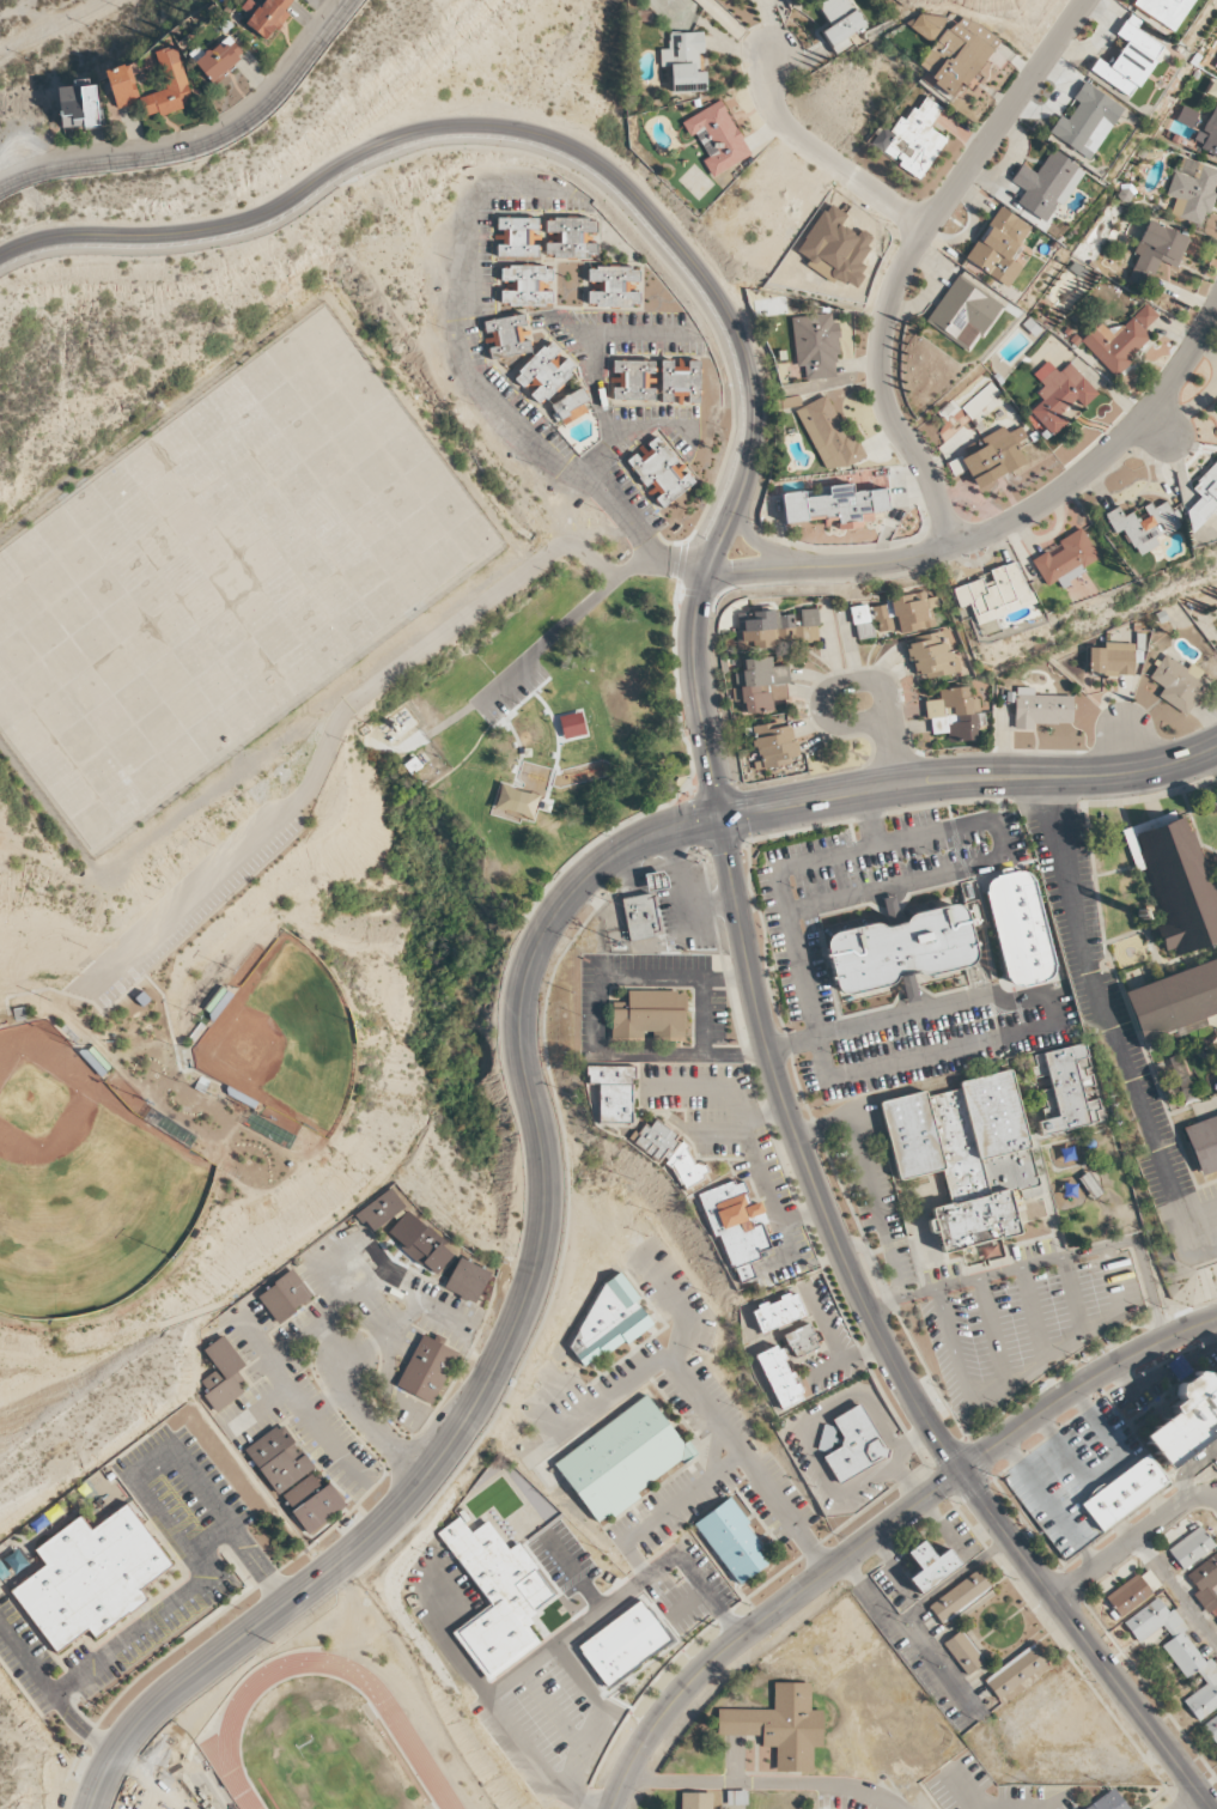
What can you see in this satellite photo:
road: (25, 5)
building: (250, 6)
road: (10, 11)
building: (1163, 11)
road: (59, 12)
building: (268, 17)
building: (839, 23)
building: (926, 25)
park: (73, 42)
building: (959, 54)
building: (219, 59)
building: (1128, 60)
building: (683, 61)
building: (1216, 67)
building: (122, 85)
building: (169, 85)
building: (1212, 90)
building: (78, 105)
building: (1087, 121)
building: (1209, 132)
building: (717, 138)
building: (911, 139)
road: (203, 144)
road: (826, 158)
building: (1046, 184)
building: (1192, 190)
road: (627, 194)
road: (645, 232)
building: (517, 237)
building: (572, 237)
building: (998, 245)
road: (651, 248)
road: (172, 250)
building: (1156, 251)
road: (909, 256)
building: (525, 285)
building: (613, 286)
building: (963, 312)
road: (644, 335)
building: (506, 336)
building: (1120, 339)
building: (815, 345)
road: (596, 366)
road: (469, 372)
building: (543, 374)
building: (680, 381)
building: (1060, 395)
building: (570, 406)
building: (827, 433)
building: (994, 455)
building: (659, 473)
building: (1204, 498)
building: (834, 504)
road: (1017, 520)
building: (1144, 526)
road: (639, 534)
road: (763, 545)
road: (680, 559)
building: (1066, 559)
building: (994, 593)
building: (895, 614)
building: (777, 627)
road: (540, 645)
building: (931, 655)
building: (1112, 658)
road: (871, 681)
parking lot: (512, 682)
building: (1178, 682)
building: (760, 684)
building: (1040, 709)
building: (954, 715)
building: (572, 724)
road: (335, 733)
building: (773, 742)
park: (571, 745)
road: (521, 748)
road: (895, 753)
road: (1213, 754)
road: (969, 778)
building: (516, 802)
traffic signals: (722, 819)
road: (875, 839)
road: (860, 849)
building: (1176, 879)
building: (656, 880)
road: (869, 891)
parking lot: (185, 905)
building: (643, 917)
building: (1021, 928)
building: (901, 949)
road: (154, 964)
road: (802, 975)
building: (1175, 1000)
building: (650, 1016)
road: (876, 1022)
road: (1106, 1024)
park: (285, 1039)
road: (174, 1042)
road: (932, 1055)
building: (1070, 1089)
building: (614, 1092)
building: (1203, 1143)
building: (669, 1152)
building: (967, 1155)
road: (805, 1158)
road: (868, 1180)
park: (85, 1190)
building: (381, 1209)
building: (735, 1225)
building: (420, 1243)
road: (1053, 1259)
road: (324, 1280)
building: (467, 1280)
road: (400, 1288)
building: (285, 1295)
road: (1075, 1297)
road: (679, 1304)
building: (778, 1313)
road: (1034, 1316)
road: (323, 1319)
building: (610, 1321)
road: (384, 1331)
road: (993, 1334)
road: (505, 1340)
building: (801, 1340)
road: (331, 1342)
building: (426, 1368)
building: (223, 1374)
road: (1028, 1376)
building: (779, 1377)
road: (387, 1384)
road: (1083, 1385)
road: (298, 1402)
road: (328, 1402)
road: (255, 1410)
building: (1186, 1420)
road: (372, 1426)
road: (722, 1426)
building: (854, 1441)
building: (279, 1458)
building: (623, 1459)
road: (1188, 1468)
road: (1102, 1471)
road: (1040, 1492)
building: (1125, 1494)
building: (312, 1500)
road: (157, 1508)
road: (784, 1513)
road: (212, 1541)
building: (732, 1541)
road: (1133, 1541)
building: (1191, 1547)
building: (930, 1565)
road: (573, 1572)
building: (91, 1577)
building: (1150, 1579)
road: (954, 1580)
building: (1206, 1583)
road: (1178, 1591)
building: (1128, 1595)
building: (497, 1596)
building: (959, 1596)
road: (592, 1617)
road: (763, 1620)
road: (908, 1638)
road: (1085, 1640)
building: (625, 1644)
building: (963, 1652)
building: (1178, 1652)
road: (522, 1673)
building: (1017, 1673)
road: (51, 1696)
road: (494, 1707)
building: (780, 1725)
track: (400, 1728)
building: (1211, 1729)
road: (761, 1783)
road: (962, 1792)
building: (695, 1801)
building: (1108, 1802)
park: (176, 1803)
road: (1049, 1803)
road: (1194, 1803)

